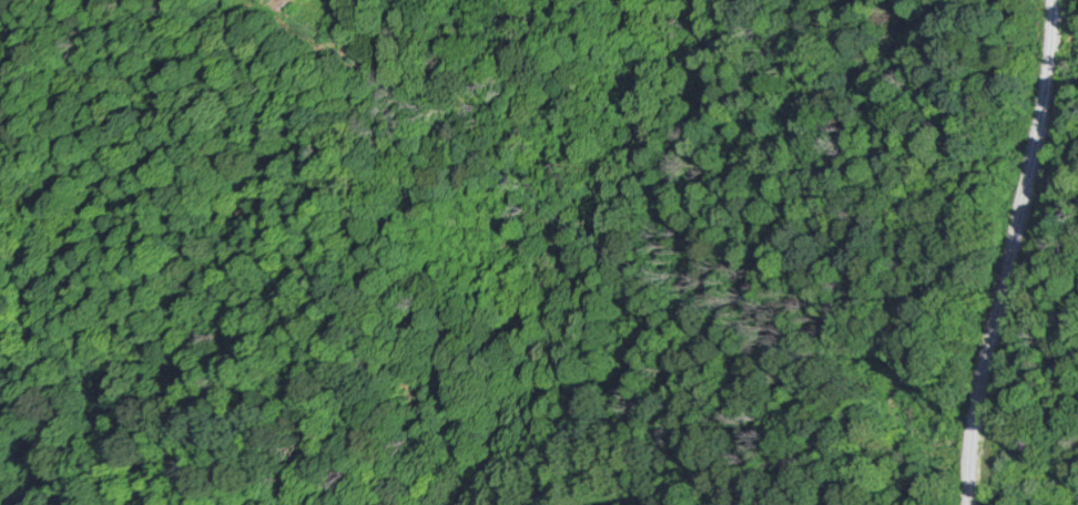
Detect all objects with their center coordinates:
road: (1015, 252)

